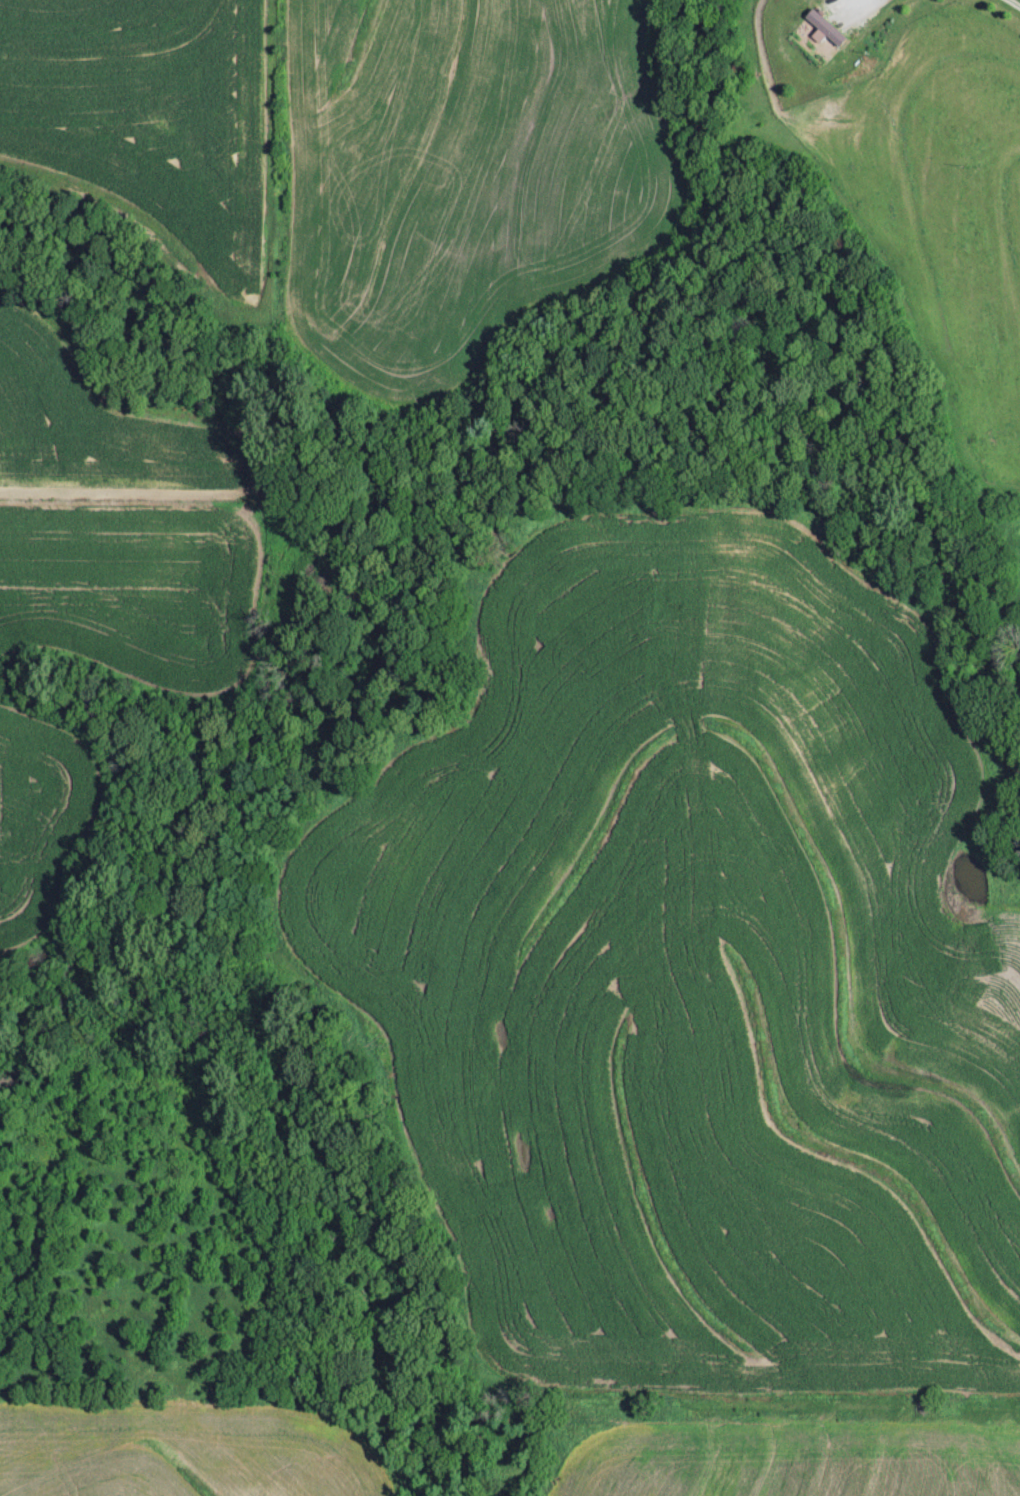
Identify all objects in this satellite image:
building: (817, 28)

